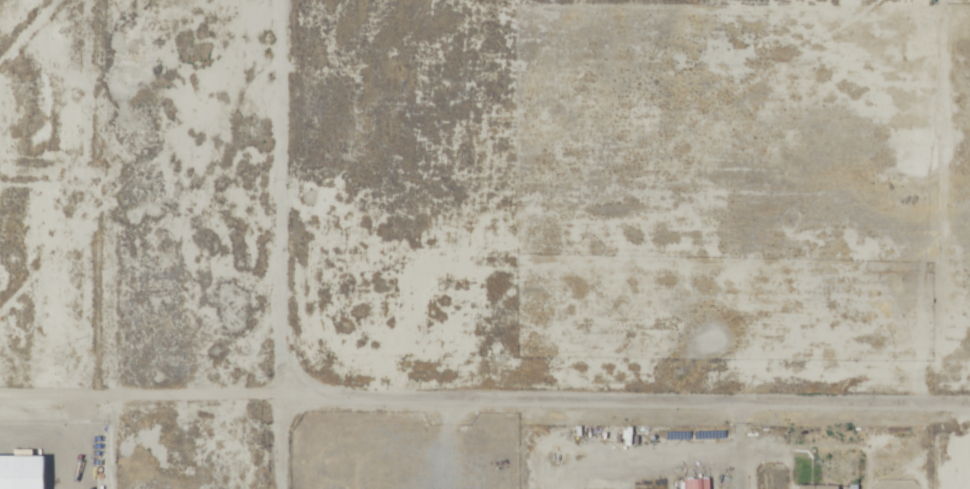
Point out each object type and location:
road: (141, 175)
road: (280, 244)
road: (484, 408)
road: (738, 436)
road: (79, 446)
road: (642, 462)
road: (738, 475)
building: (818, 487)

